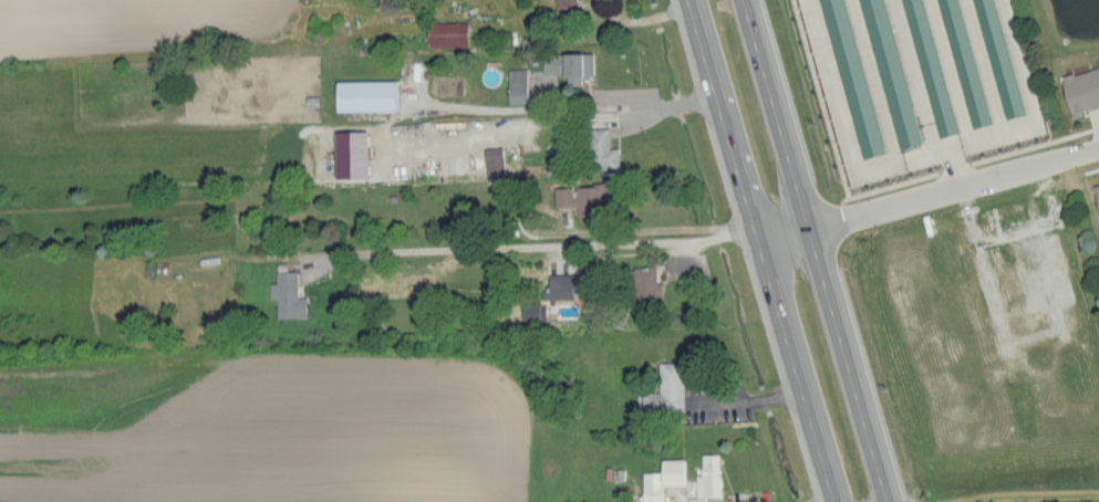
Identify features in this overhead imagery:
building: (564, 6)
building: (446, 33)
building: (997, 57)
building: (962, 63)
building: (569, 65)
building: (929, 66)
building: (888, 73)
building: (851, 77)
building: (517, 85)
building: (1081, 91)
building: (365, 95)
road: (924, 97)
road: (573, 105)
building: (600, 149)
building: (493, 153)
building: (350, 154)
road: (927, 195)
building: (582, 198)
road: (527, 241)
road: (760, 250)
road: (812, 250)
building: (645, 284)
building: (560, 286)
building: (287, 295)
building: (532, 311)
building: (665, 389)
building: (708, 474)
building: (662, 478)

